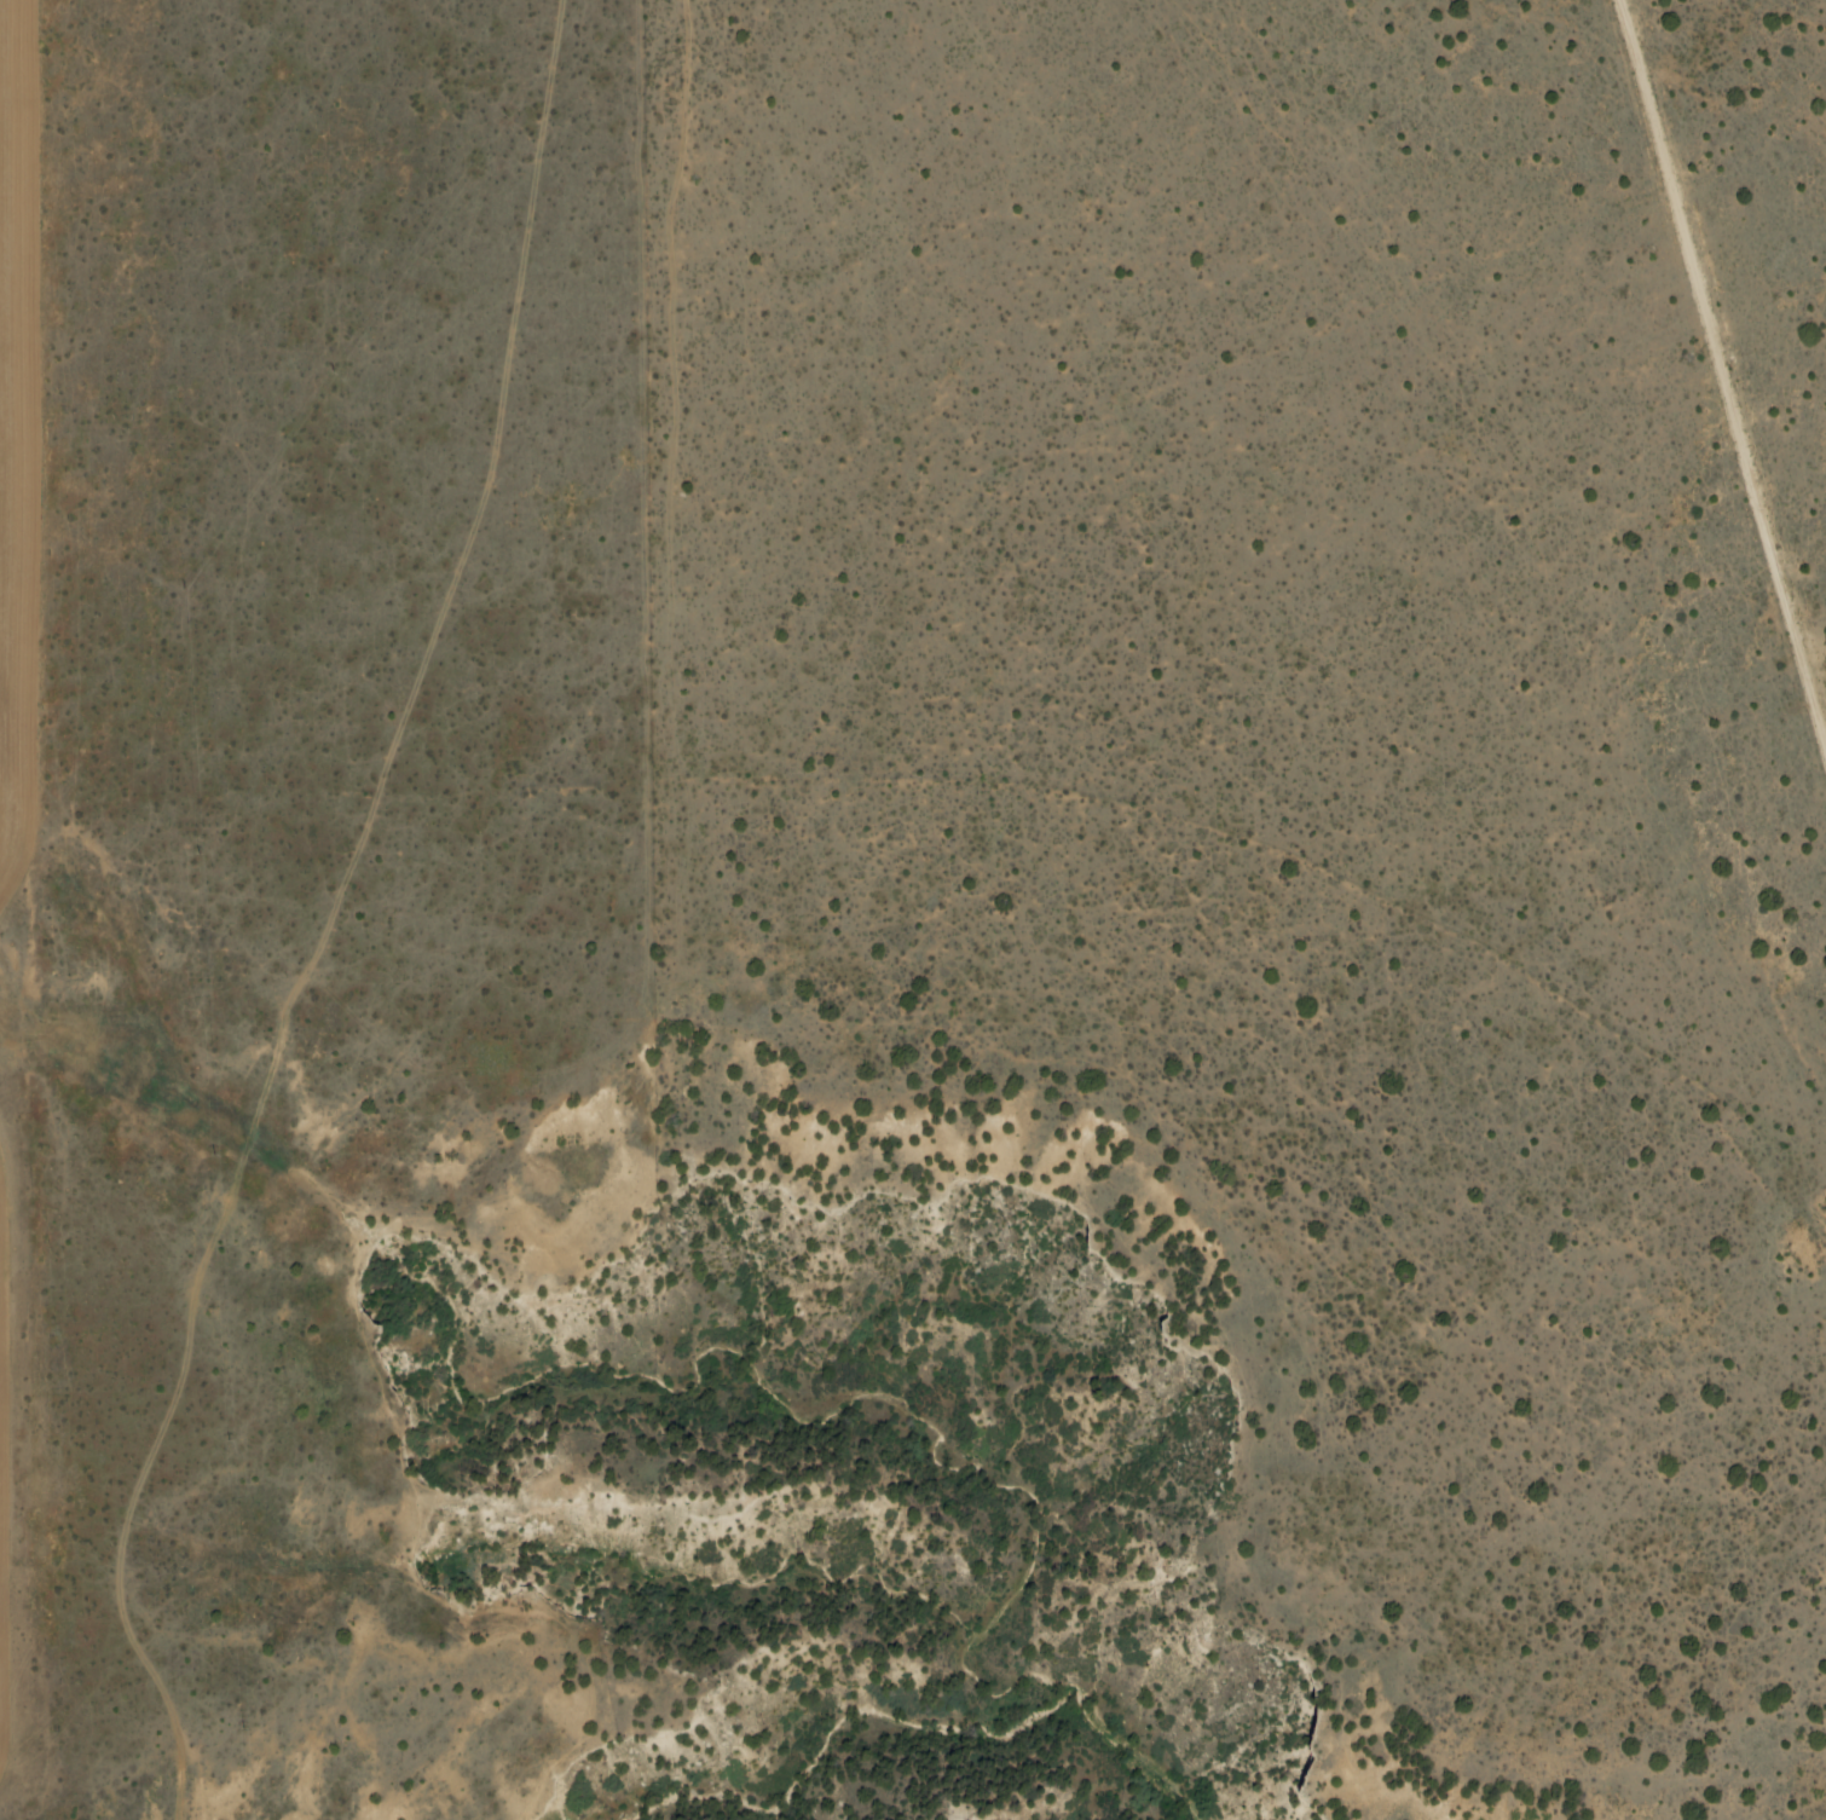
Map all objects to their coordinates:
road: (1723, 375)
crop: (146, 727)
road: (331, 919)

